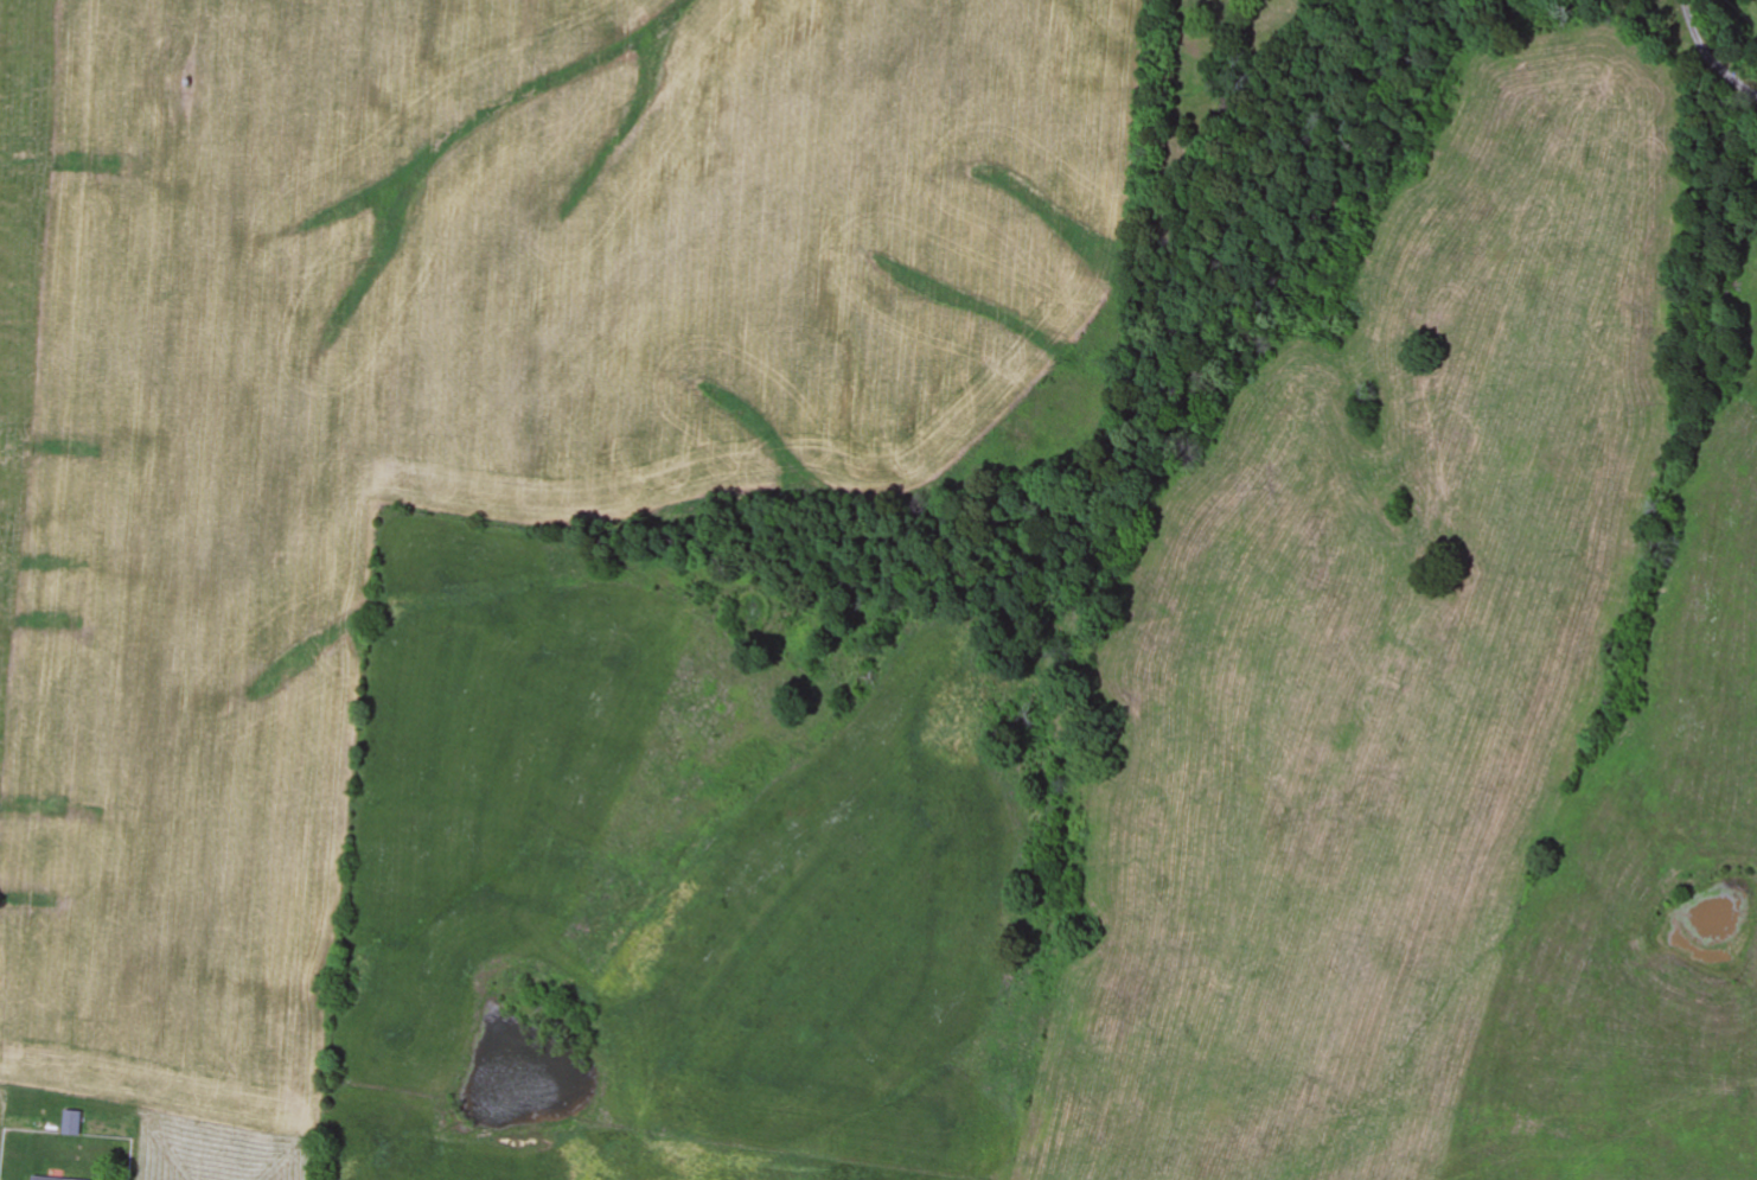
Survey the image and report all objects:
road: (1708, 57)
building: (45, 1179)

